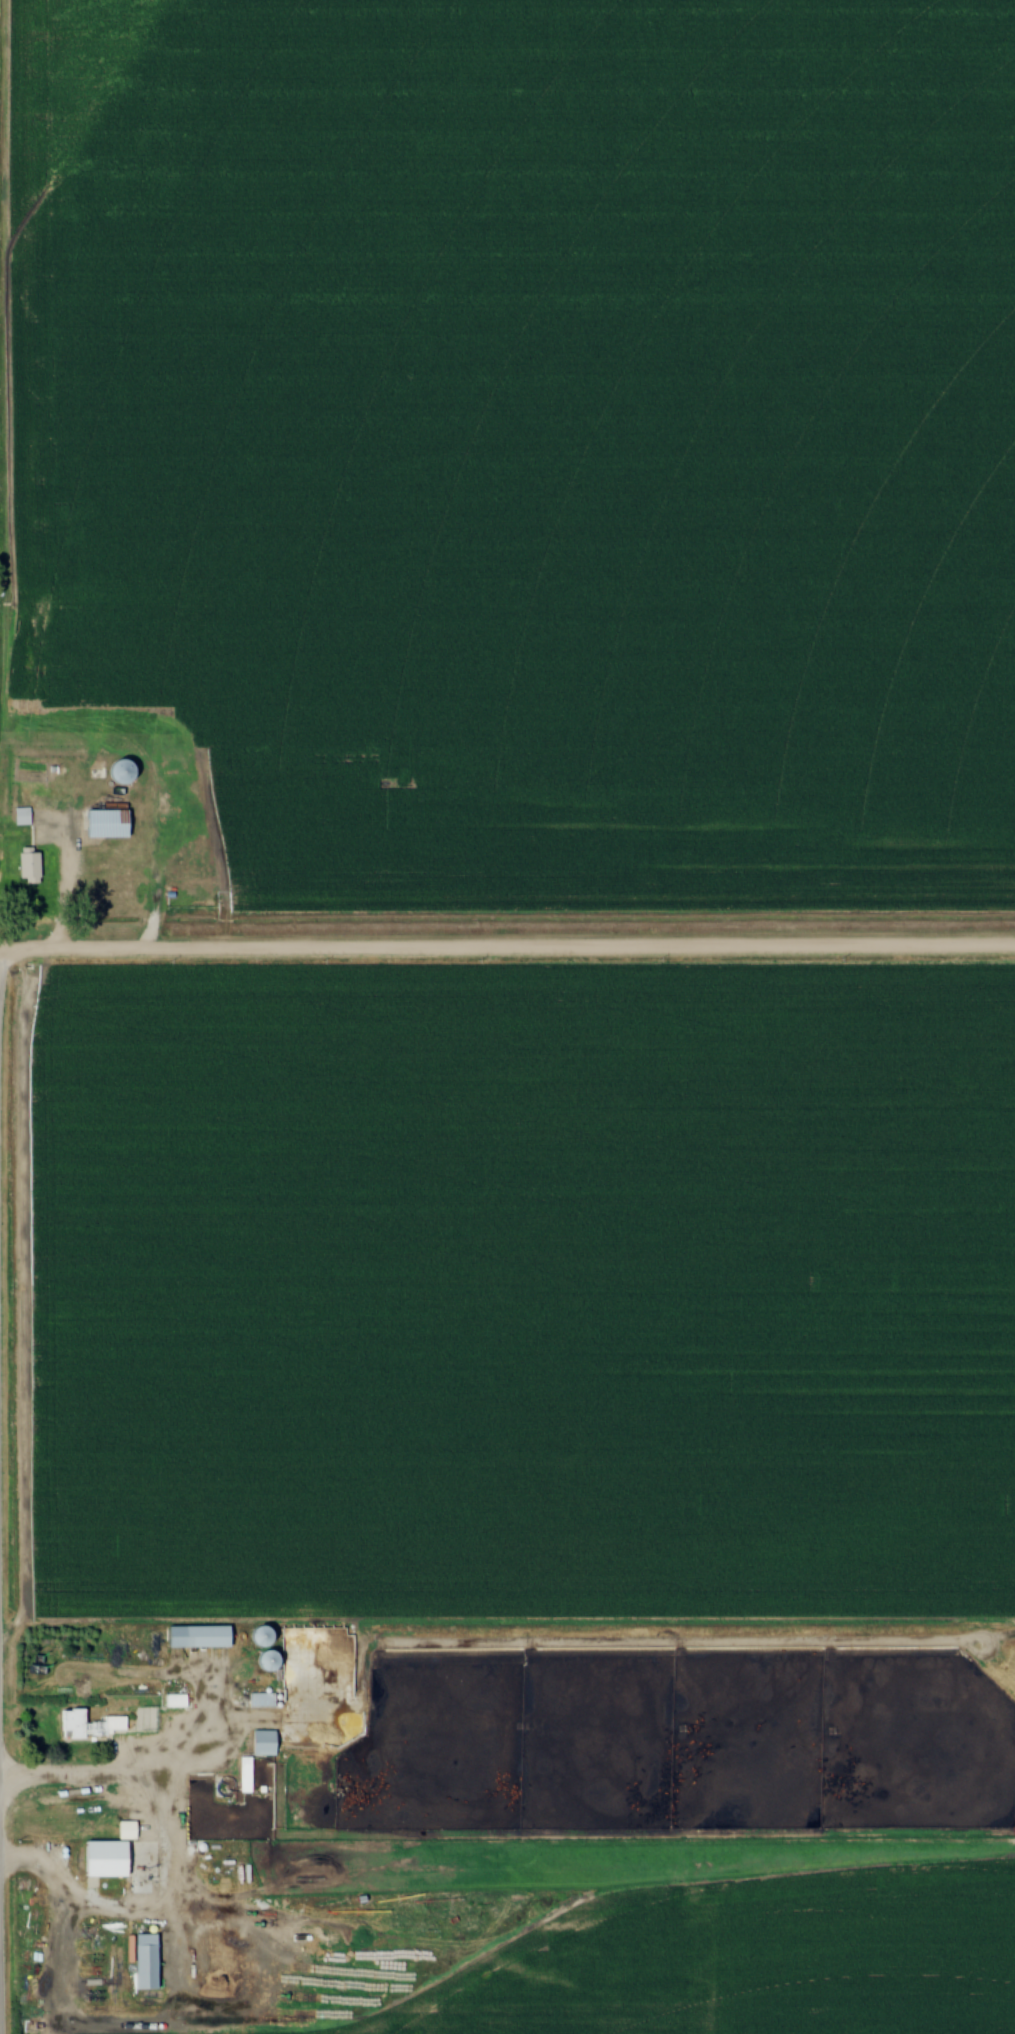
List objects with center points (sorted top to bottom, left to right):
building: (127, 773)
building: (112, 825)
building: (33, 869)
road: (507, 947)
road: (3, 962)
building: (266, 1636)
building: (203, 1637)
building: (91, 1727)
building: (268, 1745)
road: (63, 1772)
building: (248, 1776)
building: (110, 1862)
building: (150, 1962)

